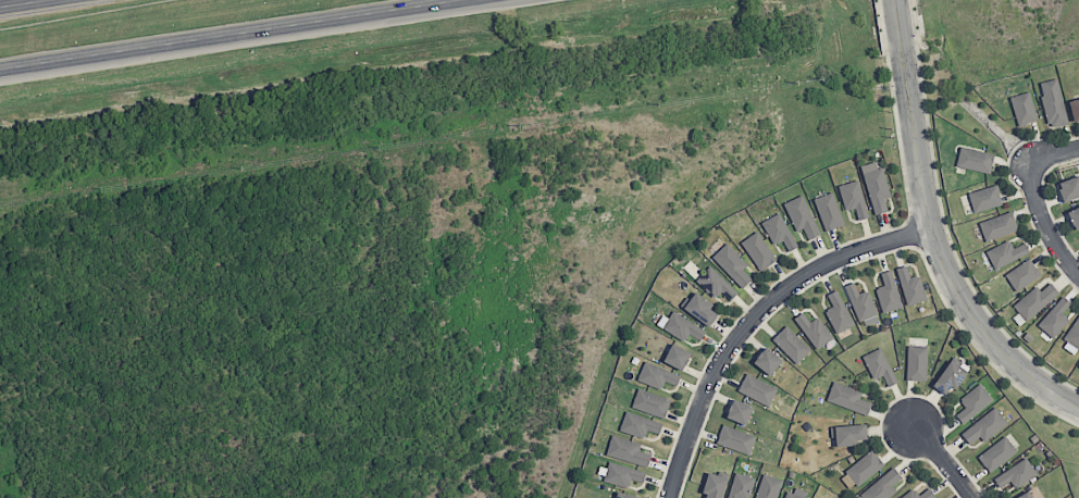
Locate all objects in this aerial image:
road: (18, 2)
road: (444, 2)
road: (222, 33)
building: (1053, 103)
building: (1024, 108)
building: (1075, 109)
road: (1055, 151)
building: (975, 160)
building: (876, 185)
building: (1069, 188)
building: (853, 198)
building: (984, 198)
building: (829, 211)
building: (802, 216)
building: (1074, 216)
road: (1044, 224)
building: (997, 226)
building: (779, 231)
road: (931, 233)
building: (758, 250)
building: (1005, 253)
building: (732, 264)
building: (1022, 274)
building: (716, 284)
building: (910, 286)
building: (888, 292)
building: (1034, 300)
building: (860, 302)
building: (699, 308)
building: (838, 312)
road: (752, 316)
building: (1055, 318)
building: (682, 327)
building: (814, 329)
building: (1072, 338)
building: (791, 344)
building: (677, 357)
building: (767, 359)
building: (916, 362)
building: (879, 365)
building: (657, 375)
building: (950, 376)
building: (757, 388)
building: (847, 398)
building: (652, 402)
building: (973, 402)
building: (740, 410)
building: (638, 424)
building: (984, 426)
building: (847, 434)
building: (736, 439)
building: (628, 450)
building: (996, 453)
road: (943, 461)
building: (864, 468)
building: (622, 474)
building: (1016, 474)
building: (716, 484)
building: (741, 485)
building: (882, 485)
building: (768, 487)
building: (927, 490)
building: (796, 493)
building: (624, 495)
building: (1025, 495)

